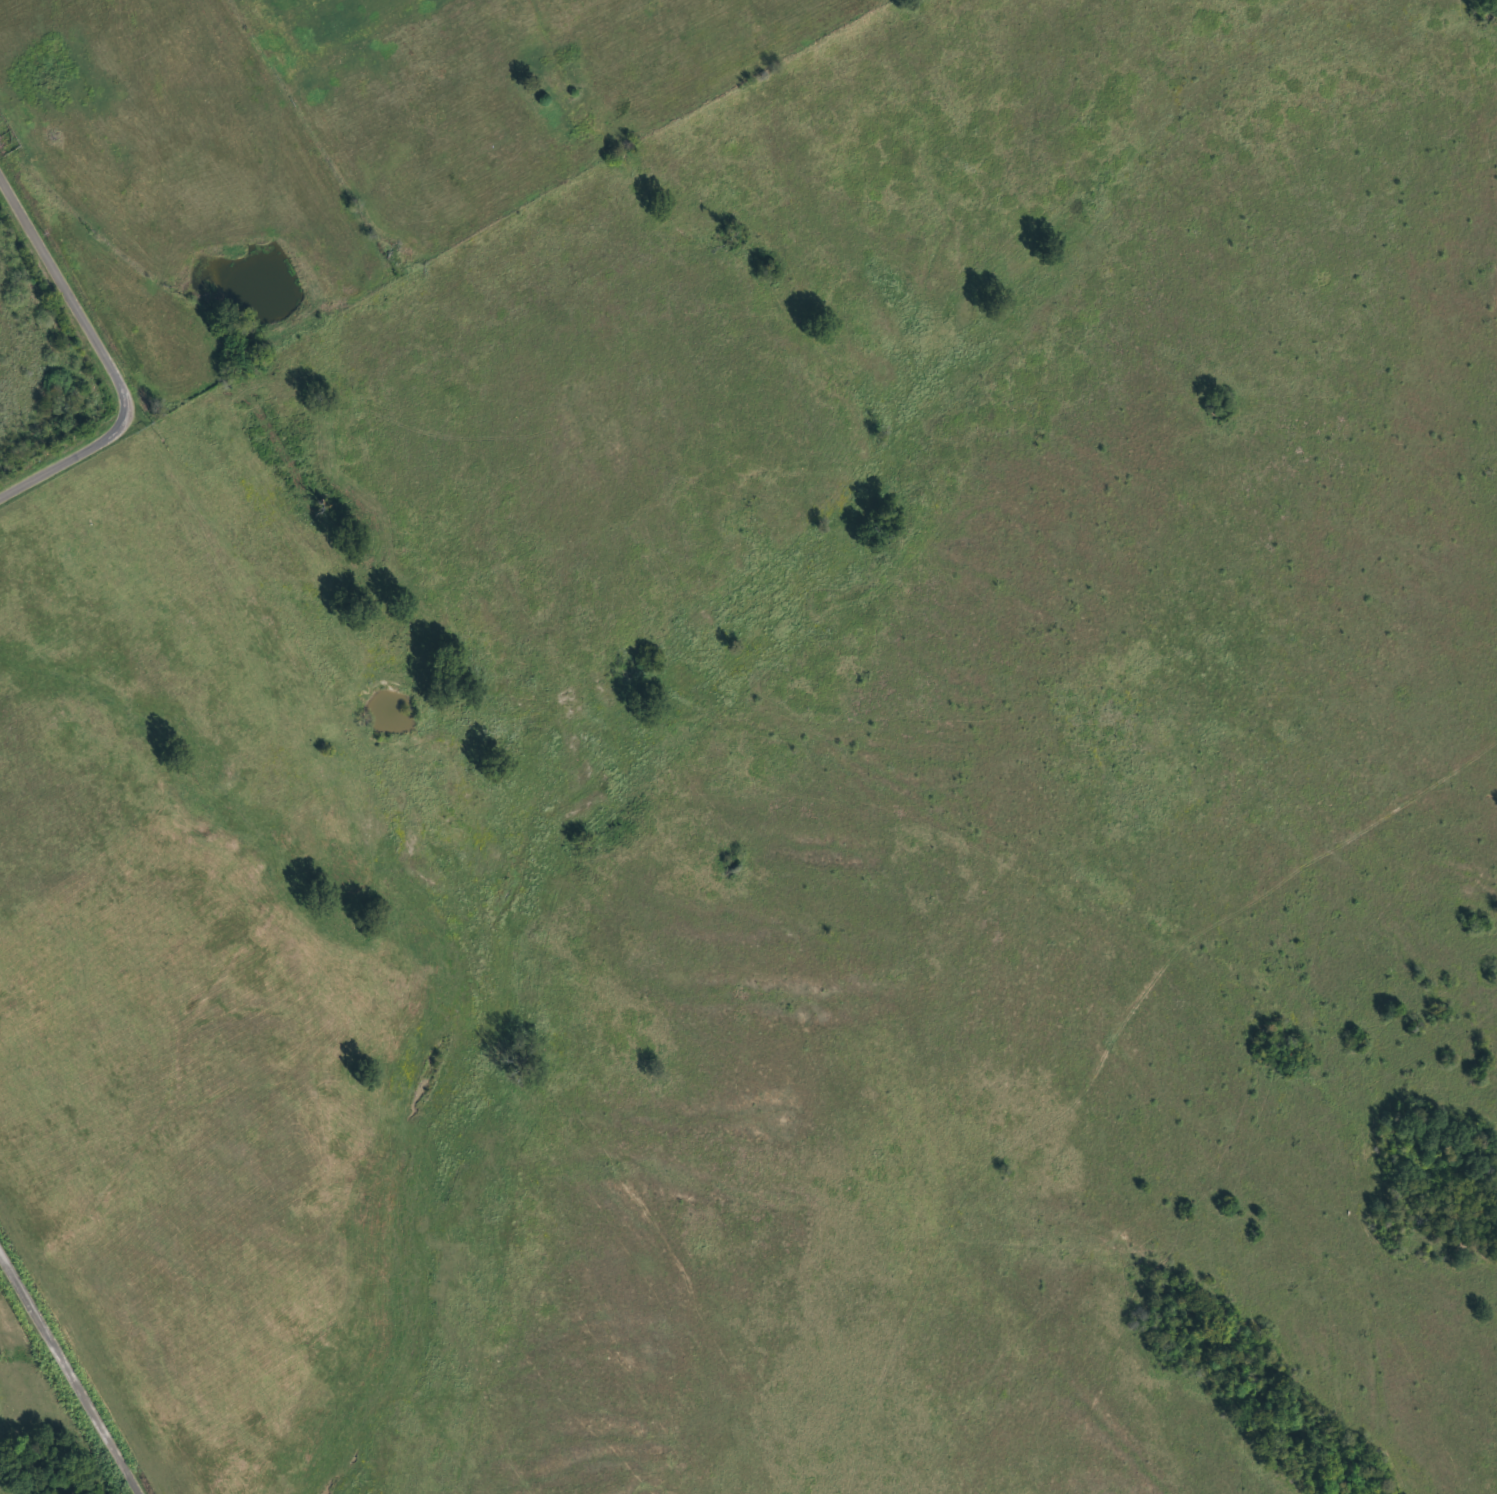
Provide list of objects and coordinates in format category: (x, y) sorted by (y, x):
building: (45, 68)
road: (107, 361)
road: (243, 562)
road: (66, 1376)

